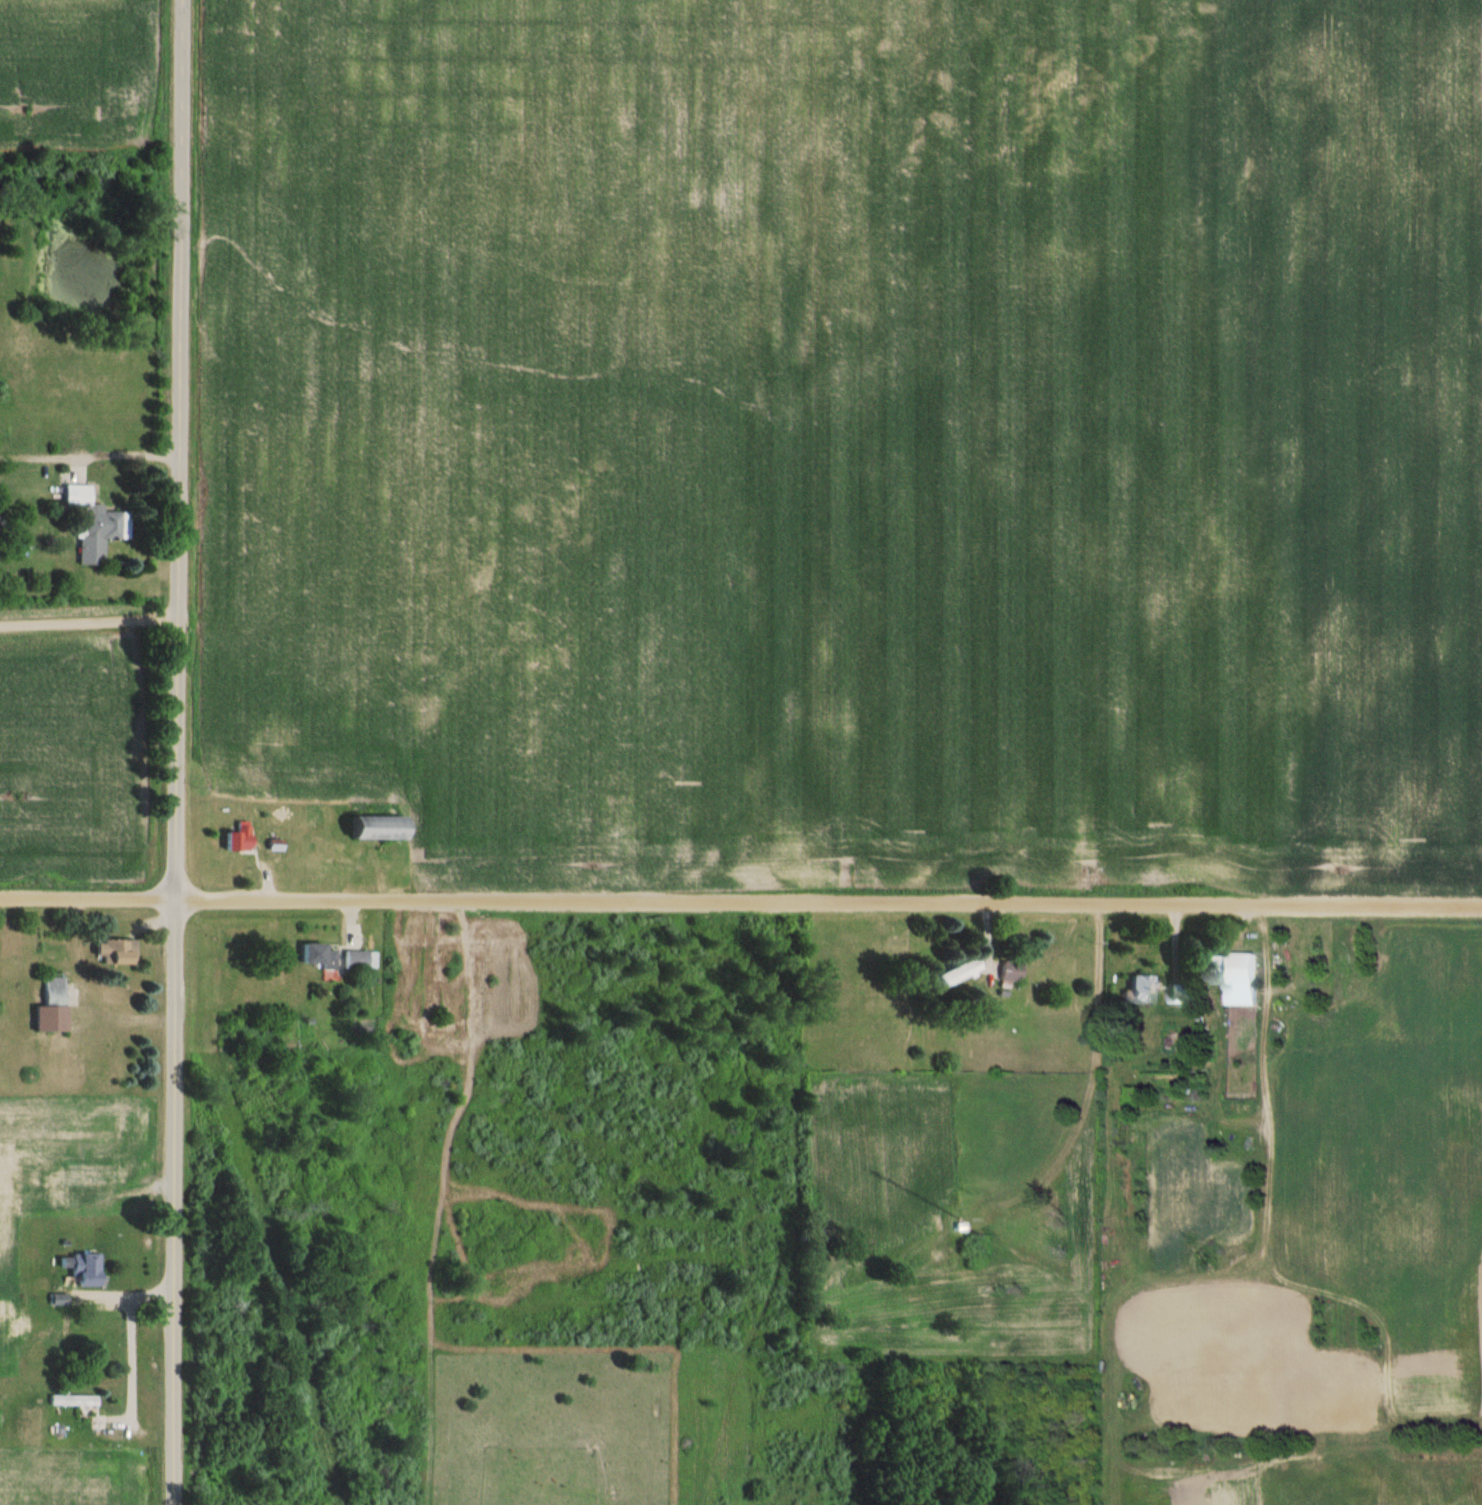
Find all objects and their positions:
road: (124, 452)
building: (95, 526)
road: (89, 620)
road: (176, 752)
building: (379, 829)
building: (238, 839)
road: (741, 903)
building: (116, 952)
building: (319, 956)
building: (357, 960)
building: (1012, 971)
building: (960, 973)
building: (1236, 975)
building: (1143, 988)
building: (1183, 993)
building: (53, 1007)
building: (64, 1194)
building: (87, 1270)
road: (135, 1345)
building: (74, 1401)

